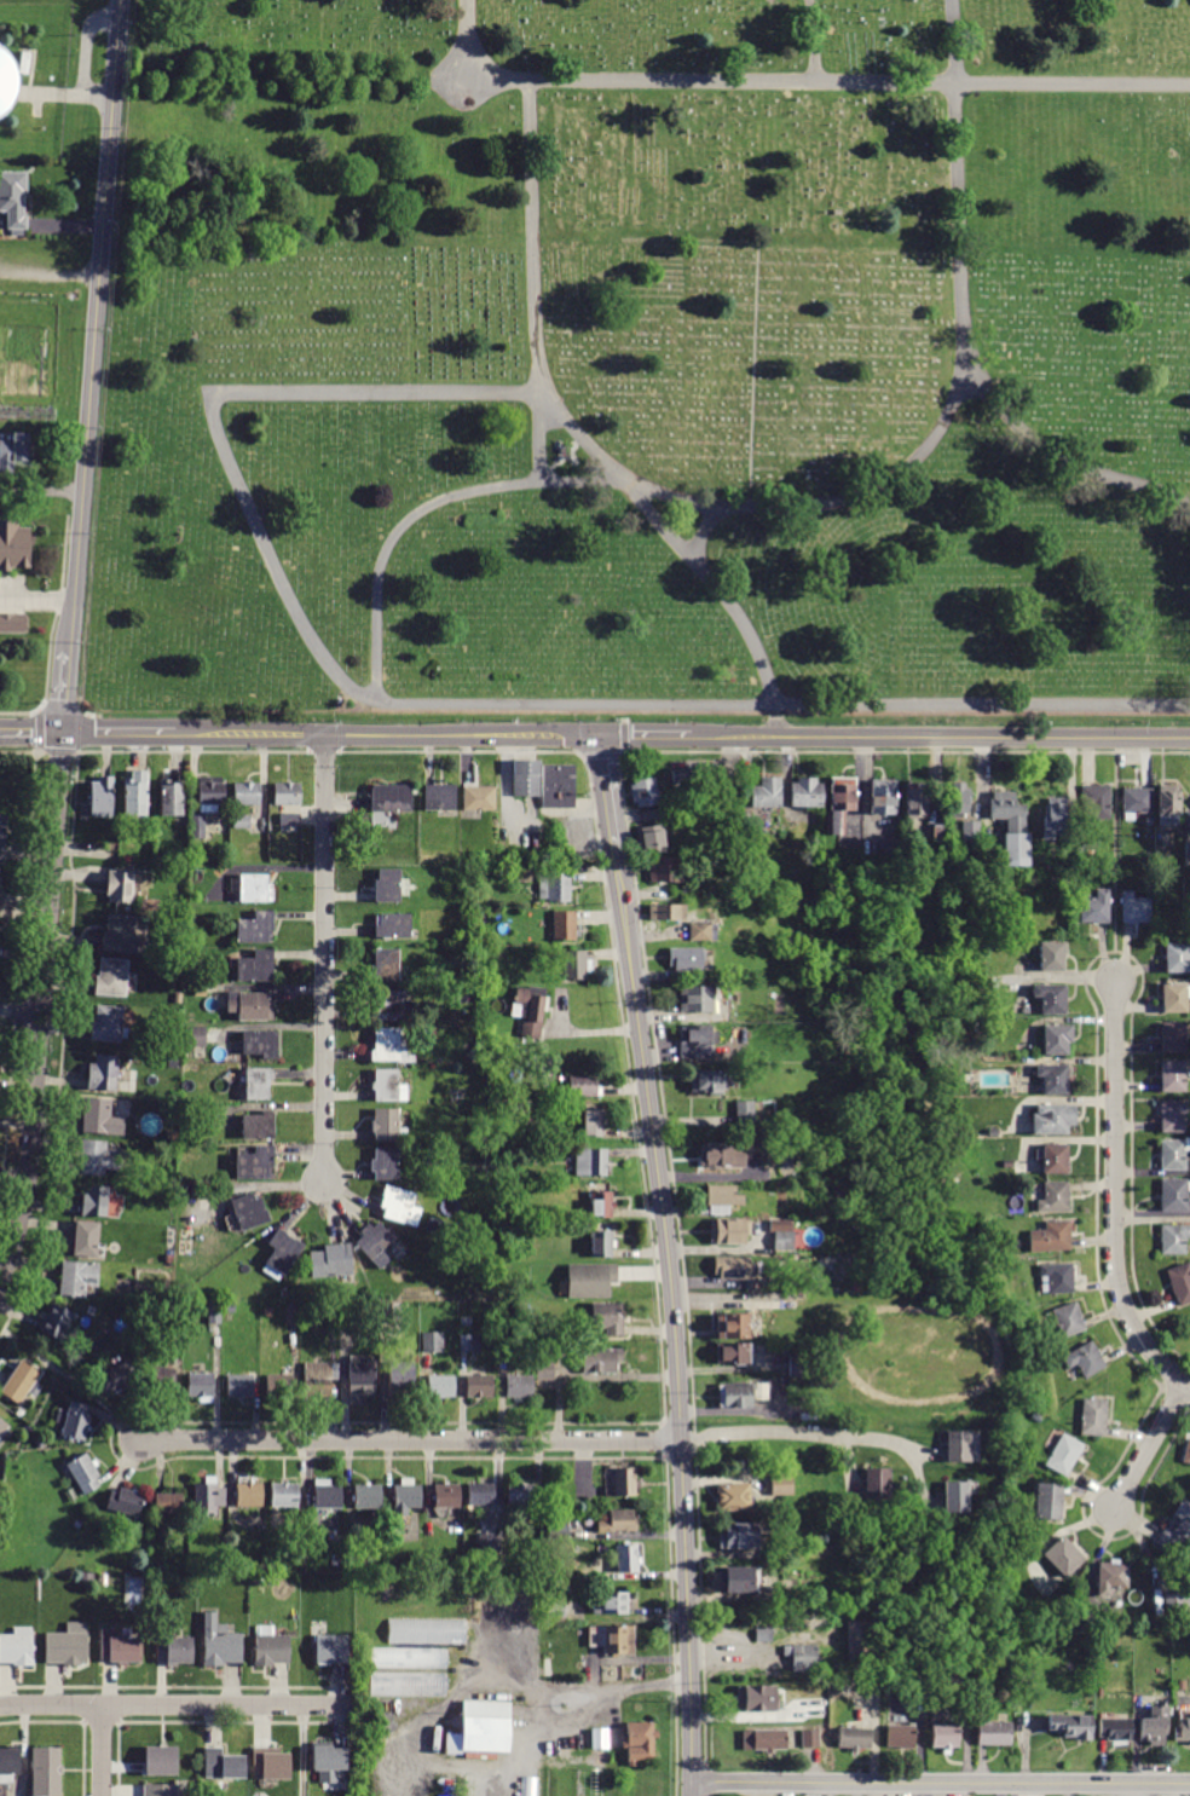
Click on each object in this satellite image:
road: (813, 42)
building: (2, 80)
road: (788, 83)
building: (13, 198)
road: (50, 272)
road: (533, 282)
road: (94, 324)
building: (0, 331)
park: (641, 371)
road: (756, 380)
building: (16, 452)
road: (1069, 457)
road: (40, 491)
road: (803, 506)
road: (663, 524)
road: (704, 531)
building: (17, 547)
road: (36, 595)
building: (15, 620)
road: (67, 692)
road: (432, 704)
road: (18, 710)
road: (59, 710)
road: (91, 712)
road: (36, 728)
road: (31, 735)
traffic signals: (64, 735)
road: (117, 735)
traffic signals: (600, 737)
road: (680, 738)
road: (18, 747)
road: (57, 747)
building: (681, 775)
building: (525, 778)
building: (559, 787)
building: (643, 792)
building: (767, 793)
building: (807, 793)
building: (137, 795)
building: (248, 795)
building: (288, 795)
building: (210, 796)
building: (102, 797)
building: (439, 797)
building: (883, 797)
building: (172, 798)
building: (392, 798)
building: (478, 798)
building: (915, 799)
building: (958, 799)
building: (1096, 801)
building: (1137, 801)
building: (839, 803)
building: (1167, 804)
building: (649, 815)
building: (1053, 818)
building: (290, 819)
building: (242, 822)
building: (197, 827)
building: (1011, 827)
building: (938, 833)
building: (2, 836)
building: (649, 839)
building: (971, 842)
building: (857, 844)
building: (1186, 853)
building: (990, 854)
road: (1117, 860)
building: (663, 868)
building: (0, 870)
building: (469, 879)
building: (387, 885)
building: (554, 887)
building: (121, 888)
building: (255, 888)
building: (0, 893)
building: (663, 896)
building: (1096, 907)
building: (1136, 908)
building: (664, 912)
building: (392, 925)
building: (564, 925)
building: (180, 926)
building: (255, 928)
building: (699, 931)
building: (121, 935)
building: (1052, 957)
building: (1177, 957)
road: (324, 958)
building: (684, 959)
building: (576, 964)
building: (385, 965)
building: (255, 966)
building: (111, 977)
building: (695, 998)
building: (1175, 998)
building: (1051, 999)
building: (821, 1003)
building: (252, 1007)
building: (393, 1007)
road: (21, 1009)
road: (42, 1010)
building: (487, 1010)
building: (530, 1010)
building: (108, 1023)
building: (838, 1029)
building: (196, 1036)
building: (1173, 1038)
building: (1058, 1039)
building: (694, 1043)
building: (259, 1044)
building: (388, 1045)
building: (196, 1055)
building: (173, 1066)
building: (103, 1073)
building: (1173, 1076)
building: (1055, 1078)
building: (967, 1079)
building: (707, 1081)
building: (256, 1082)
building: (386, 1085)
building: (583, 1086)
building: (455, 1096)
building: (1174, 1115)
building: (100, 1119)
building: (744, 1119)
building: (1051, 1120)
building: (591, 1124)
building: (259, 1125)
building: (387, 1126)
building: (504, 1136)
building: (487, 1150)
building: (724, 1155)
building: (1172, 1155)
building: (97, 1157)
building: (1056, 1159)
building: (590, 1161)
building: (857, 1162)
building: (256, 1163)
building: (385, 1163)
building: (1009, 1165)
building: (945, 1180)
building: (1174, 1195)
road: (1115, 1196)
building: (1053, 1197)
building: (722, 1199)
building: (94, 1201)
building: (601, 1205)
building: (399, 1206)
building: (249, 1212)
building: (855, 1225)
building: (728, 1232)
building: (781, 1235)
building: (1050, 1237)
building: (87, 1238)
building: (1174, 1238)
building: (375, 1243)
building: (601, 1245)
building: (281, 1254)
building: (331, 1261)
road: (670, 1264)
building: (732, 1267)
building: (77, 1277)
building: (1056, 1278)
building: (590, 1281)
building: (1180, 1283)
building: (855, 1286)
building: (287, 1294)
building: (229, 1306)
building: (391, 1311)
building: (329, 1312)
building: (175, 1313)
building: (214, 1313)
building: (291, 1313)
building: (352, 1313)
building: (607, 1317)
building: (1068, 1319)
building: (56, 1322)
building: (464, 1322)
building: (733, 1326)
building: (433, 1341)
building: (469, 1344)
building: (522, 1351)
building: (732, 1353)
building: (1084, 1359)
building: (600, 1361)
building: (801, 1365)
building: (544, 1367)
building: (116, 1378)
building: (360, 1378)
building: (319, 1379)
building: (402, 1379)
building: (161, 1380)
building: (21, 1384)
road: (69, 1384)
building: (281, 1384)
building: (243, 1385)
building: (440, 1386)
building: (480, 1386)
building: (200, 1387)
building: (519, 1387)
building: (740, 1393)
building: (807, 1416)
building: (1035, 1417)
building: (1092, 1417)
building: (74, 1421)
building: (2, 1427)
road: (799, 1431)
road: (409, 1440)
building: (974, 1444)
road: (1150, 1445)
building: (957, 1446)
building: (1186, 1453)
building: (1063, 1455)
building: (83, 1472)
building: (625, 1482)
building: (878, 1484)
building: (781, 1485)
building: (70, 1495)
building: (249, 1495)
building: (283, 1495)
building: (327, 1495)
building: (481, 1495)
building: (520, 1495)
building: (208, 1496)
building: (446, 1496)
building: (368, 1497)
building: (405, 1497)
building: (733, 1497)
building: (955, 1497)
building: (1047, 1501)
building: (125, 1502)
building: (168, 1503)
building: (618, 1521)
building: (558, 1528)
building: (1177, 1532)
building: (739, 1536)
building: (489, 1542)
building: (1063, 1557)
building: (626, 1559)
building: (86, 1577)
building: (1110, 1577)
building: (741, 1580)
building: (788, 1589)
building: (1177, 1602)
building: (610, 1604)
building: (555, 1610)
building: (426, 1632)
building: (763, 1635)
building: (610, 1639)
building: (219, 1644)
building: (860, 1645)
building: (67, 1646)
building: (270, 1646)
building: (17, 1647)
building: (120, 1648)
building: (173, 1650)
building: (333, 1650)
building: (802, 1657)
building: (408, 1658)
road: (516, 1679)
building: (408, 1685)
road: (570, 1685)
building: (844, 1692)
building: (756, 1698)
building: (1184, 1699)
road: (178, 1704)
building: (1154, 1725)
building: (1071, 1726)
building: (1182, 1726)
building: (1115, 1729)
building: (994, 1734)
building: (945, 1736)
building: (901, 1737)
building: (854, 1738)
building: (600, 1739)
building: (764, 1739)
building: (810, 1739)
building: (639, 1742)
road: (102, 1750)
road: (300, 1750)
building: (481, 1754)
building: (161, 1761)
building: (329, 1762)
building: (8, 1765)
building: (223, 1765)
building: (270, 1766)
building: (46, 1771)
building: (530, 1774)
road: (940, 1784)
building: (160, 1790)

